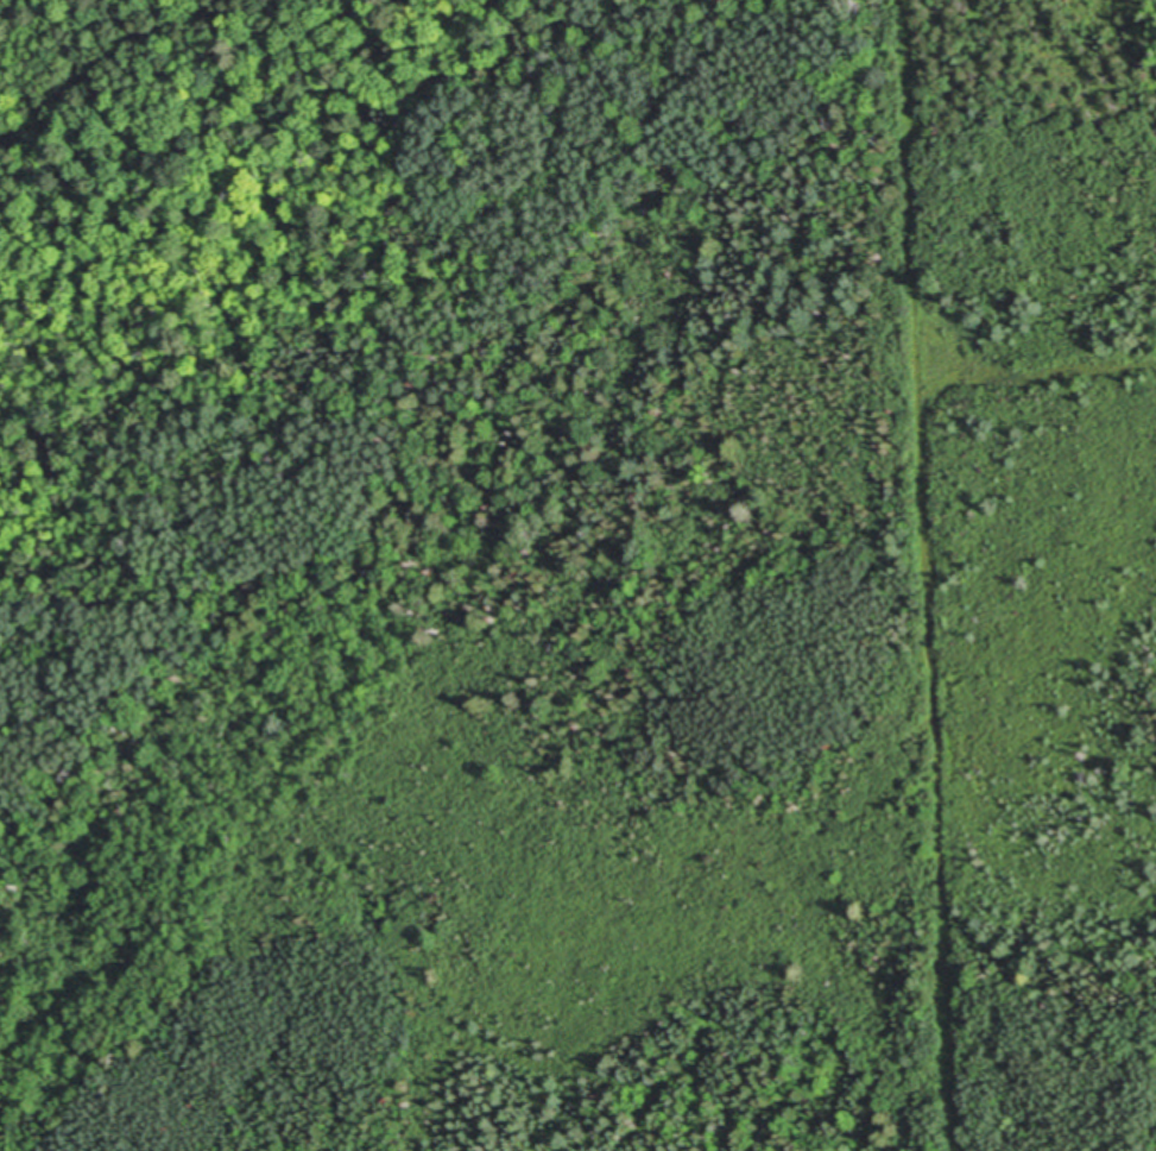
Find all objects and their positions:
road: (928, 575)

